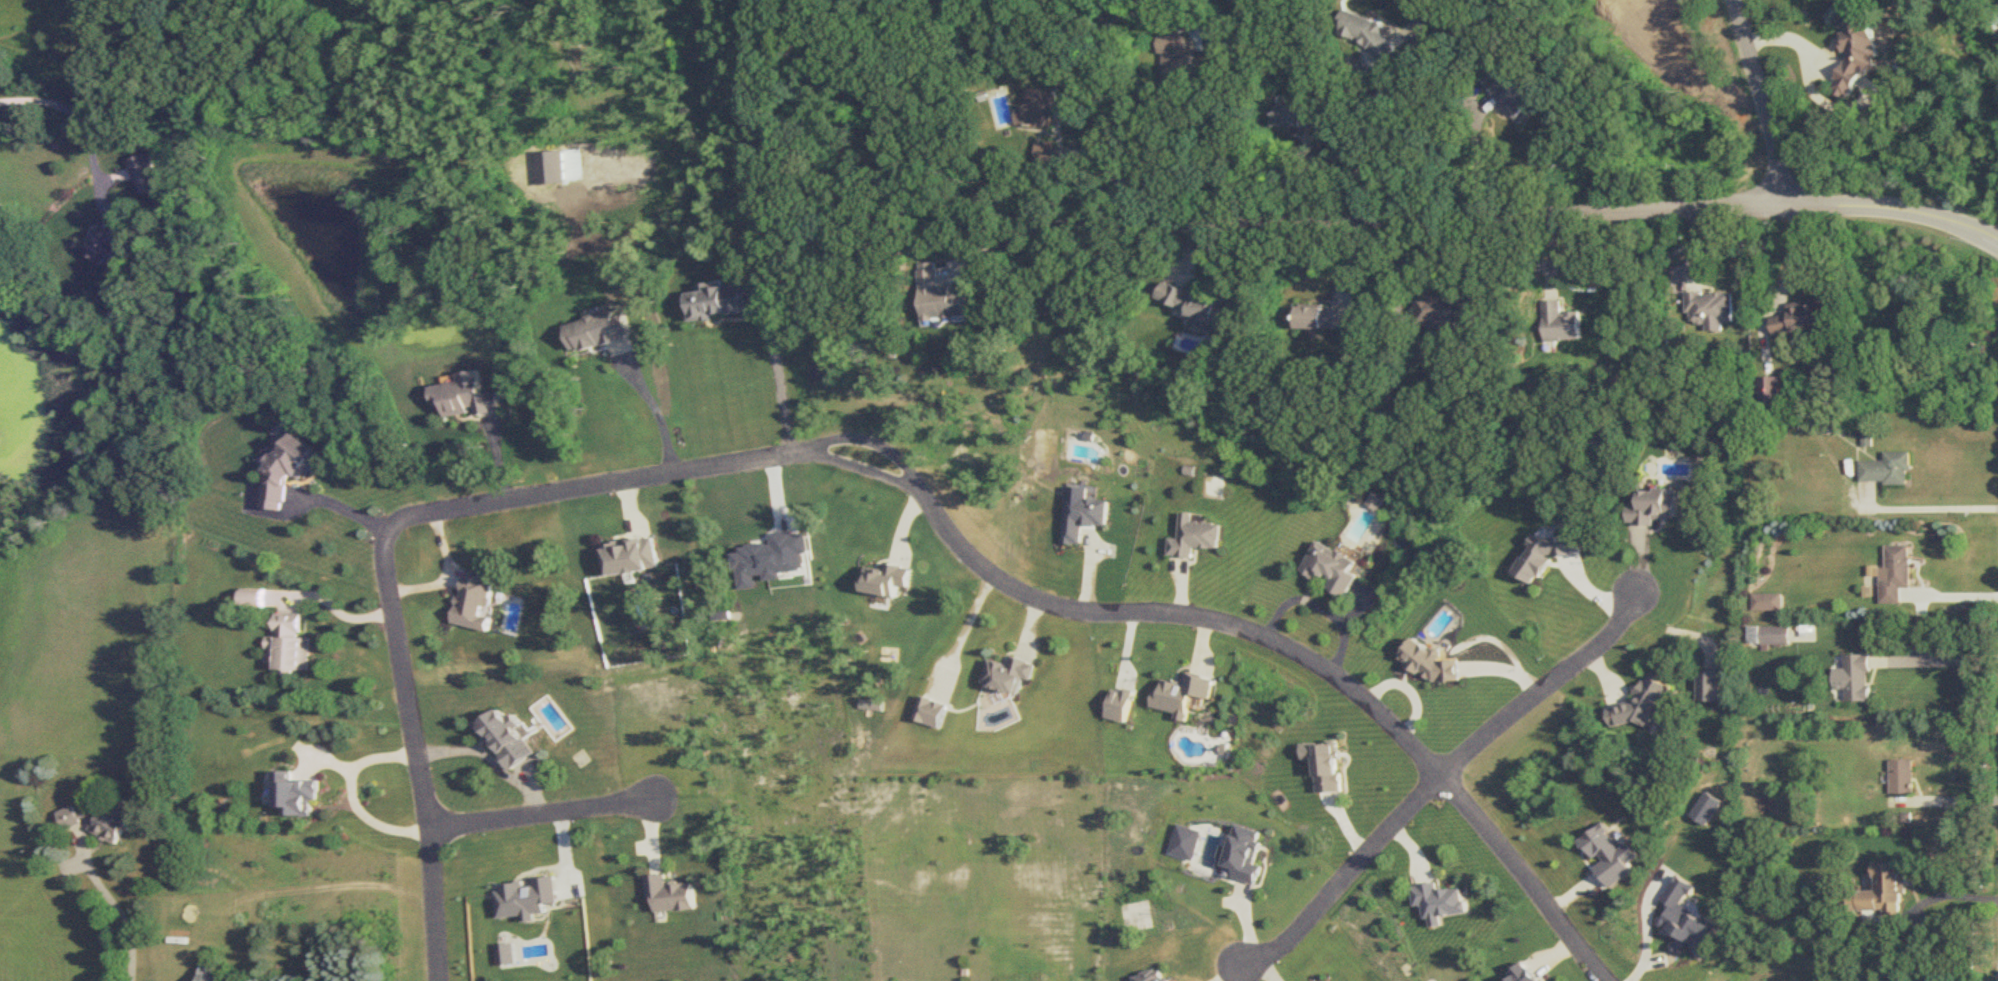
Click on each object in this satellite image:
building: (1504, 10)
road: (1088, 12)
building: (1366, 34)
building: (1860, 52)
building: (1178, 62)
building: (1517, 98)
road: (1764, 102)
road: (66, 108)
building: (1038, 110)
building: (1297, 118)
road: (1368, 143)
road: (1477, 161)
building: (147, 176)
road: (1460, 215)
road: (1045, 230)
building: (111, 242)
building: (942, 299)
building: (717, 304)
building: (1196, 305)
building: (1713, 310)
building: (1446, 311)
building: (1801, 319)
building: (1324, 320)
building: (1562, 324)
building: (599, 333)
building: (819, 373)
road: (777, 384)
building: (1771, 391)
building: (468, 398)
road: (660, 421)
building: (1830, 424)
building: (1889, 470)
building: (287, 471)
road: (342, 507)
building: (1656, 508)
road: (1924, 508)
building: (1075, 517)
building: (1194, 536)
building: (630, 556)
building: (1336, 568)
building: (1897, 574)
road: (1953, 595)
building: (470, 601)
building: (1769, 602)
road: (1045, 604)
building: (1770, 635)
building: (290, 645)
road: (1944, 658)
building: (995, 675)
building: (1860, 678)
building: (916, 712)
building: (495, 738)
road: (409, 754)
road: (481, 761)
building: (1327, 769)
road: (1440, 778)
building: (1902, 778)
building: (297, 794)
road: (1953, 801)
road: (353, 806)
road: (530, 816)
building: (100, 822)
building: (1884, 890)
building: (656, 895)
road: (1935, 896)
road: (309, 897)
building: (1438, 901)
road: (119, 904)
building: (212, 970)
building: (1519, 974)
building: (1147, 976)
building: (1311, 980)

